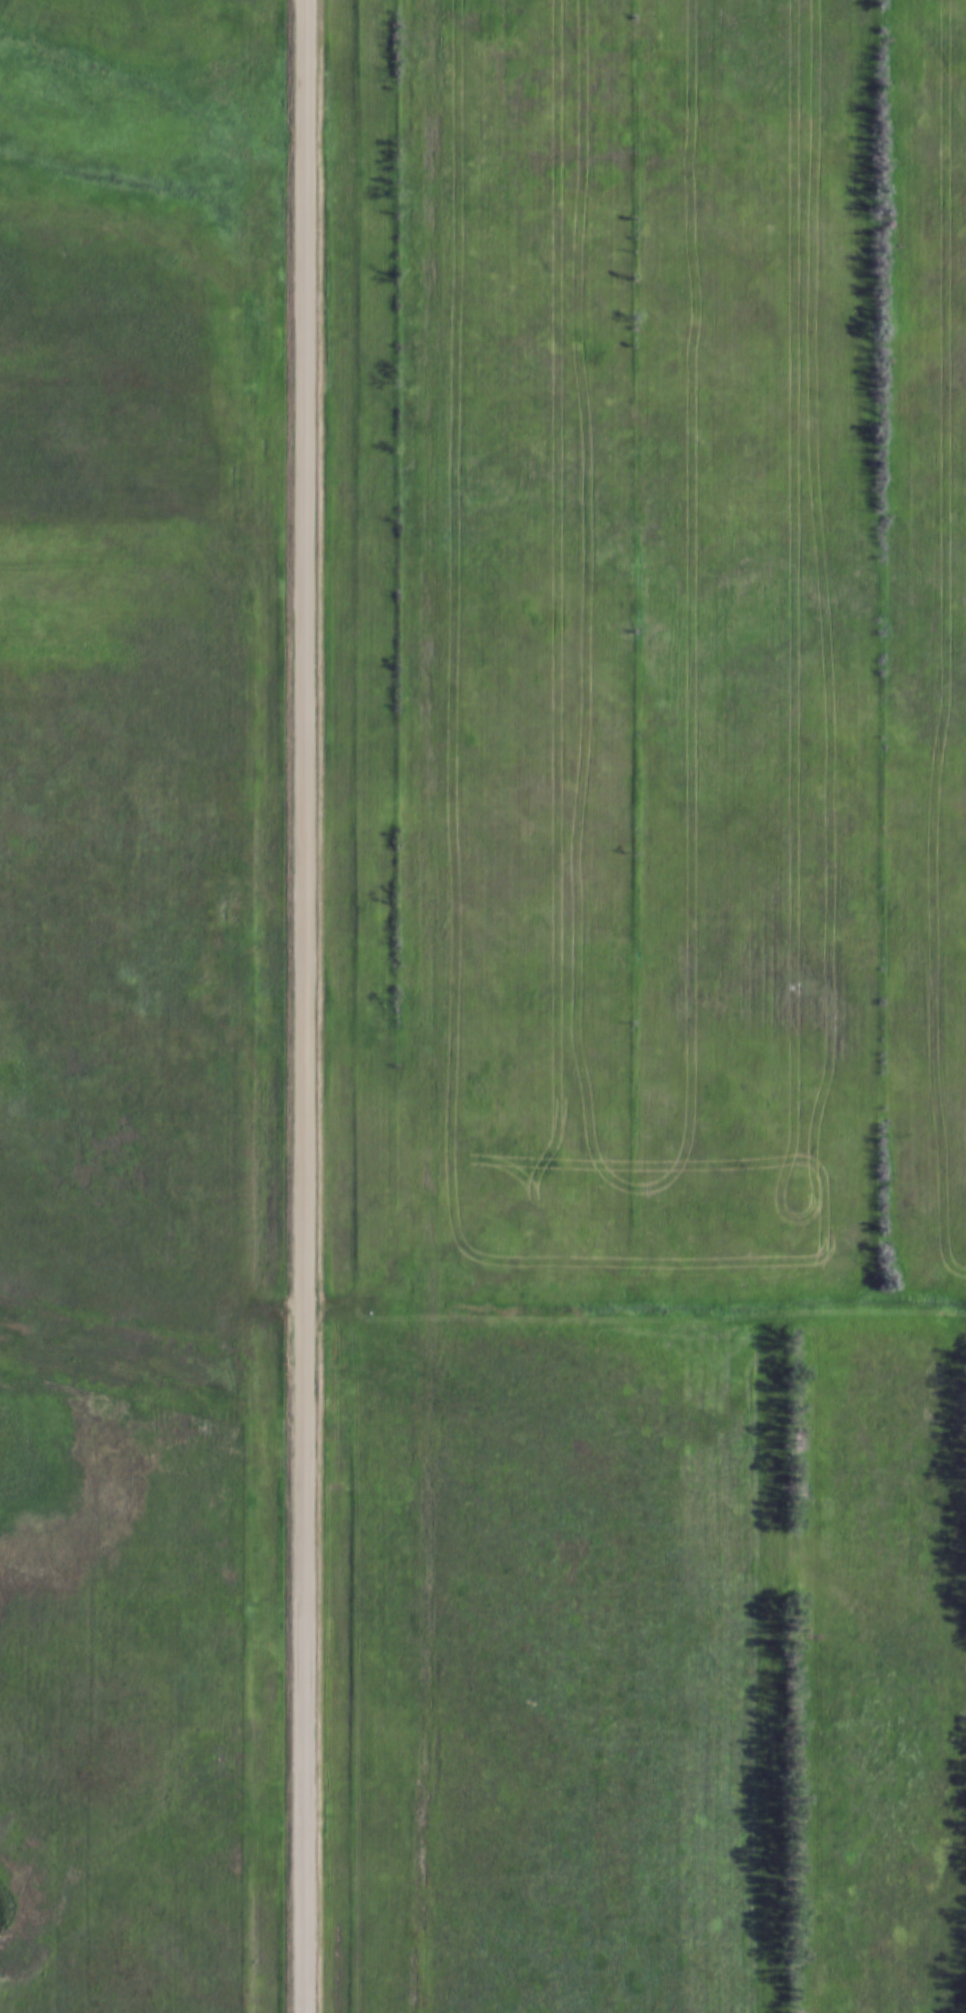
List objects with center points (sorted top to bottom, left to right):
road: (306, 1006)
road: (123, 1376)
road: (158, 1553)

